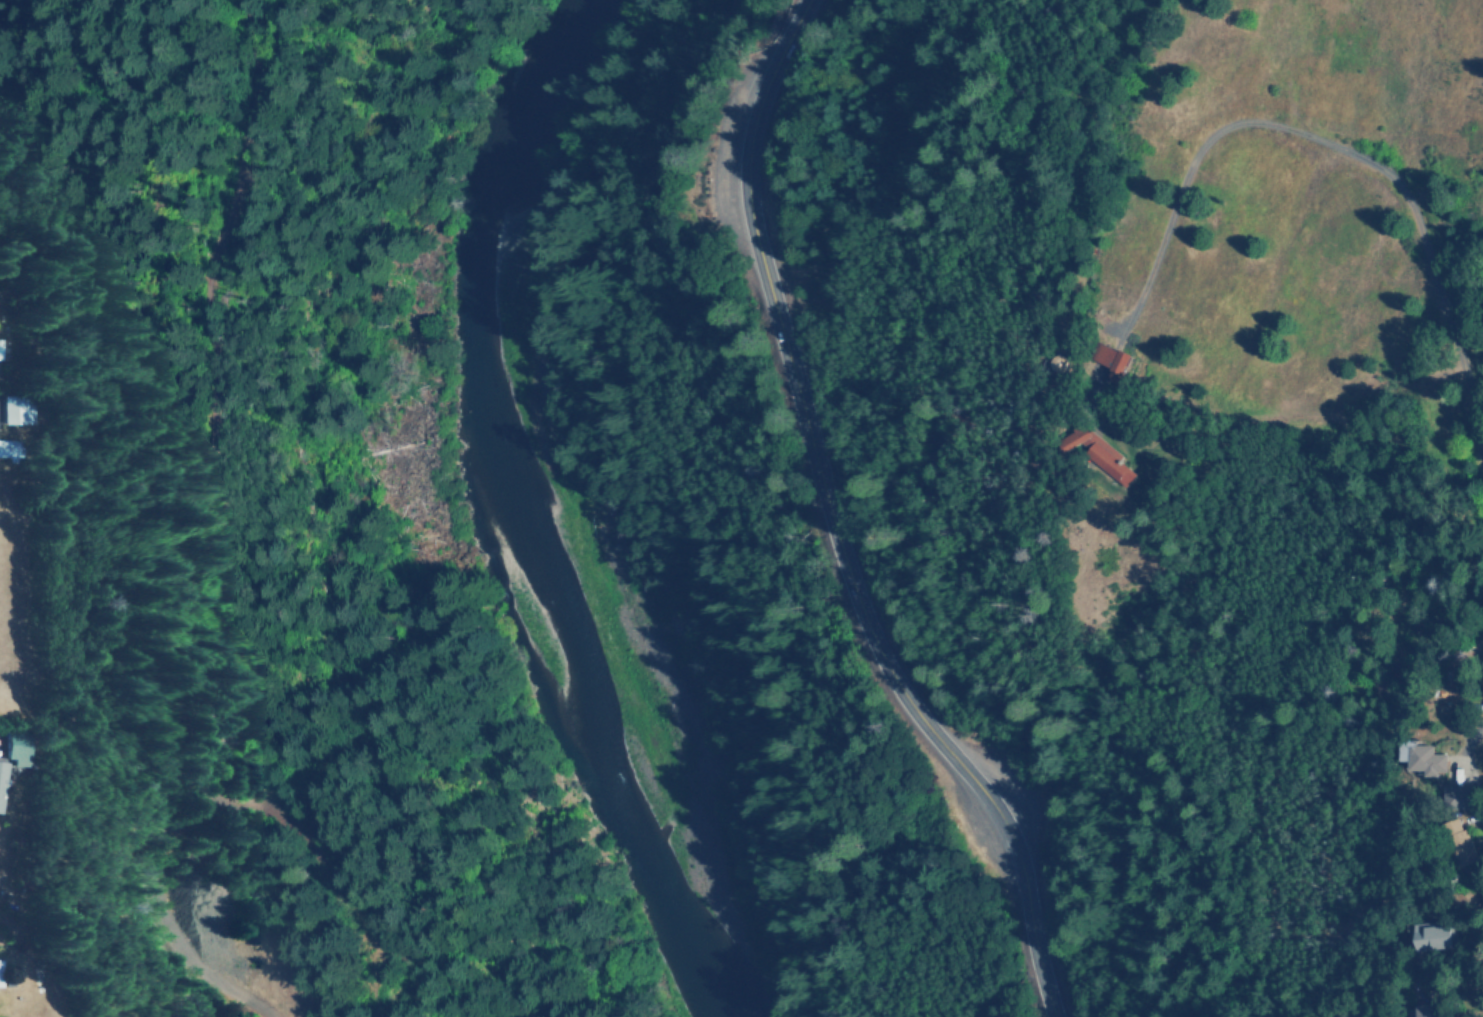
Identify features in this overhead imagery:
building: (0, 348)
building: (1111, 358)
building: (17, 410)
building: (8, 448)
building: (1097, 452)
road: (260, 503)
road: (835, 523)
river: (531, 530)
building: (18, 748)
building: (1423, 758)
building: (2, 775)
building: (1431, 936)
road: (249, 996)
building: (1429, 1013)

